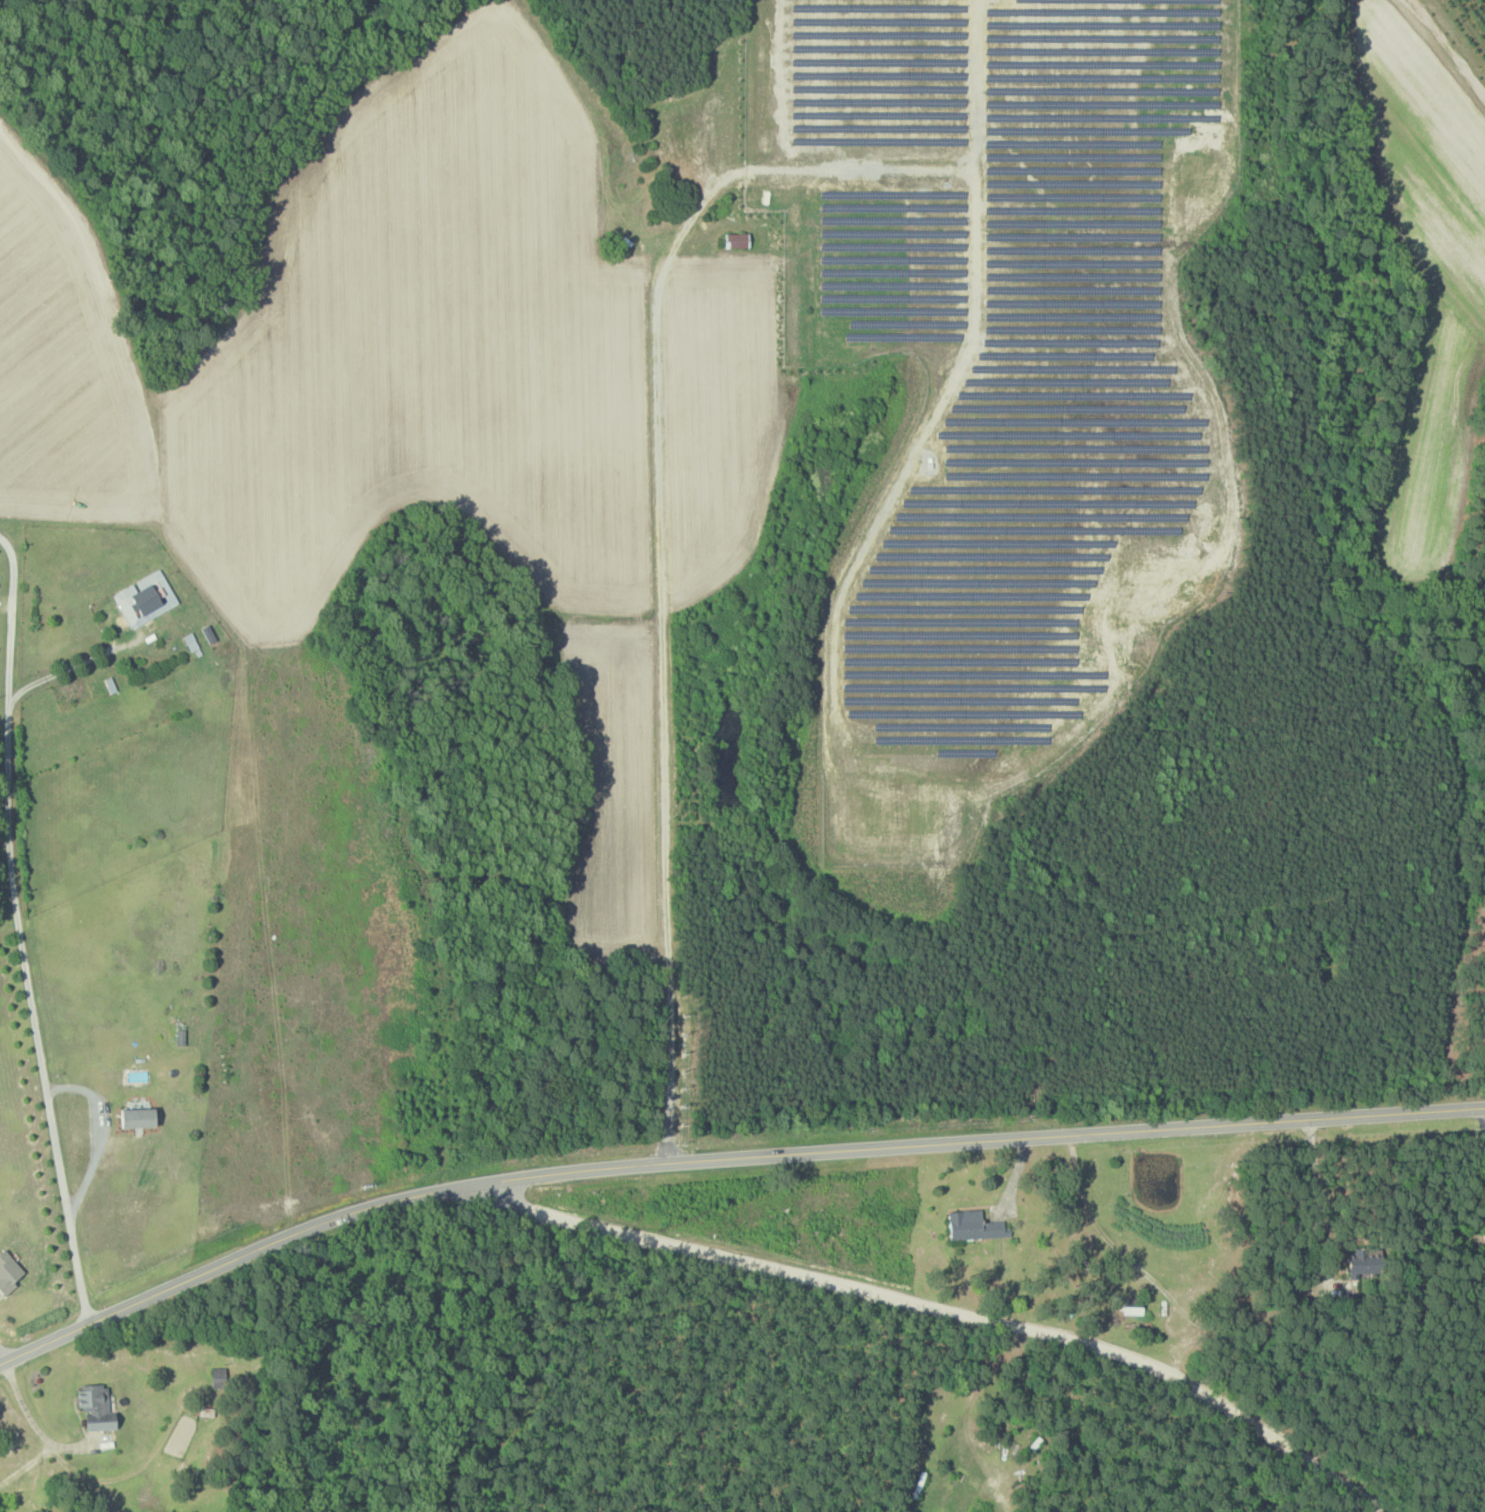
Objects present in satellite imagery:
building: (738, 239)
building: (146, 598)
road: (71, 666)
road: (18, 933)
building: (139, 1075)
building: (139, 1117)
road: (1479, 1127)
road: (103, 1134)
road: (725, 1157)
road: (1319, 1202)
building: (976, 1225)
road: (1137, 1265)
building: (8, 1272)
building: (1134, 1306)
road: (942, 1313)
building: (96, 1407)
road: (41, 1431)

